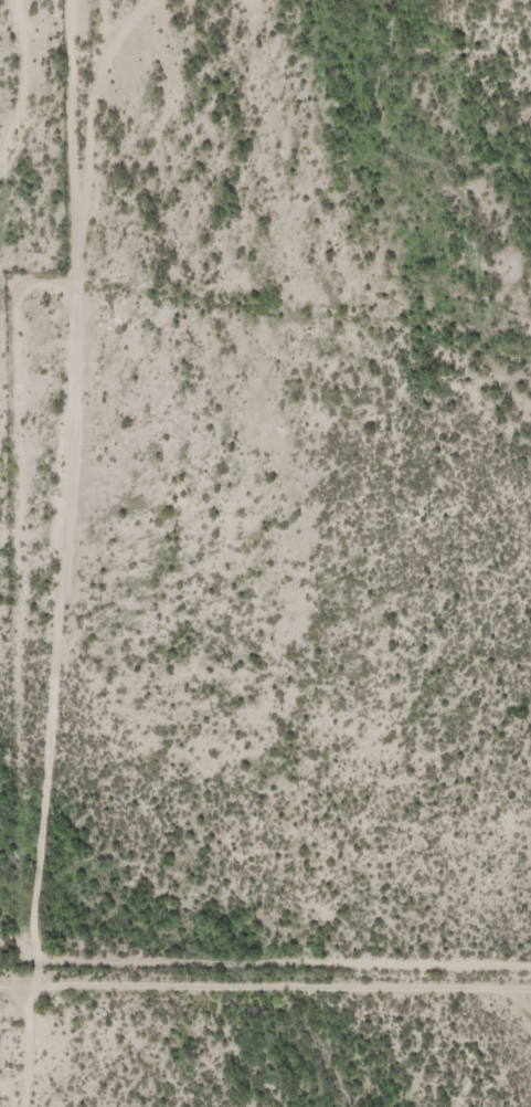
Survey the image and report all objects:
road: (286, 18)
road: (15, 304)
road: (265, 978)
road: (105, 1027)

